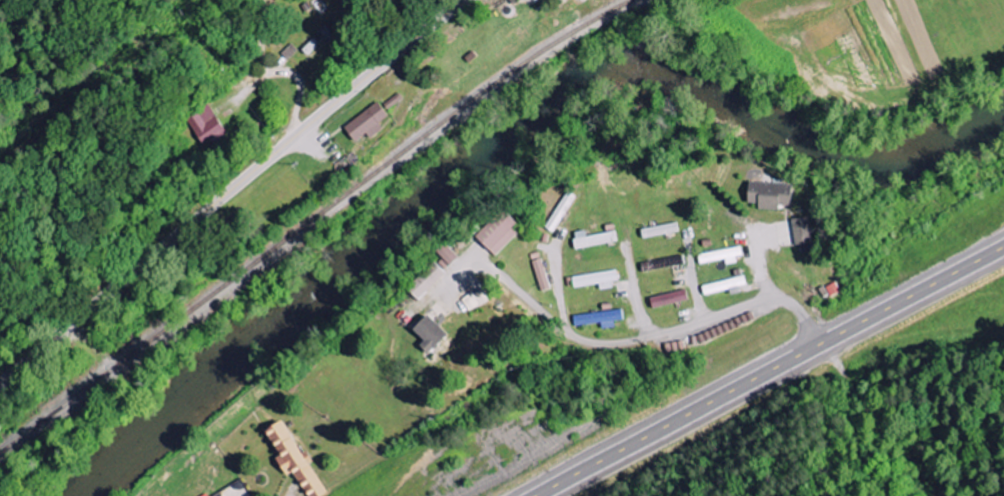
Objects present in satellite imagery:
building: (370, 122)
building: (208, 125)
river: (496, 138)
road: (231, 189)
building: (772, 194)
building: (560, 213)
railway: (311, 219)
building: (803, 230)
building: (501, 232)
building: (594, 239)
building: (449, 254)
building: (722, 255)
road: (761, 265)
building: (541, 274)
road: (693, 275)
building: (598, 279)
building: (428, 281)
road: (637, 281)
building: (725, 285)
building: (834, 289)
building: (670, 298)
building: (600, 318)
building: (432, 333)
road: (658, 335)
road: (766, 371)
road: (102, 395)
building: (293, 459)
building: (207, 495)

